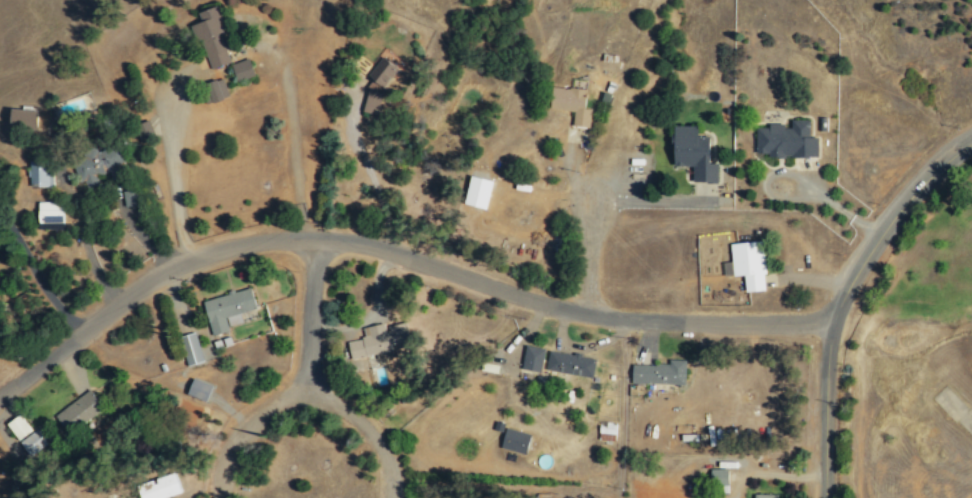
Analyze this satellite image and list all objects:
building: (211, 37)
building: (241, 70)
building: (380, 74)
building: (216, 90)
building: (371, 102)
building: (570, 104)
building: (22, 119)
road: (290, 123)
building: (785, 141)
building: (692, 154)
building: (95, 167)
road: (173, 168)
road: (368, 173)
building: (39, 174)
building: (477, 192)
building: (128, 198)
building: (49, 216)
road: (398, 252)
road: (591, 260)
building: (748, 265)
road: (844, 297)
building: (228, 308)
road: (310, 321)
building: (379, 341)
building: (190, 349)
building: (532, 359)
building: (569, 364)
building: (658, 374)
building: (198, 391)
road: (308, 403)
building: (79, 411)
building: (17, 428)
building: (514, 441)
building: (34, 442)
building: (718, 477)
building: (159, 489)
building: (764, 496)

